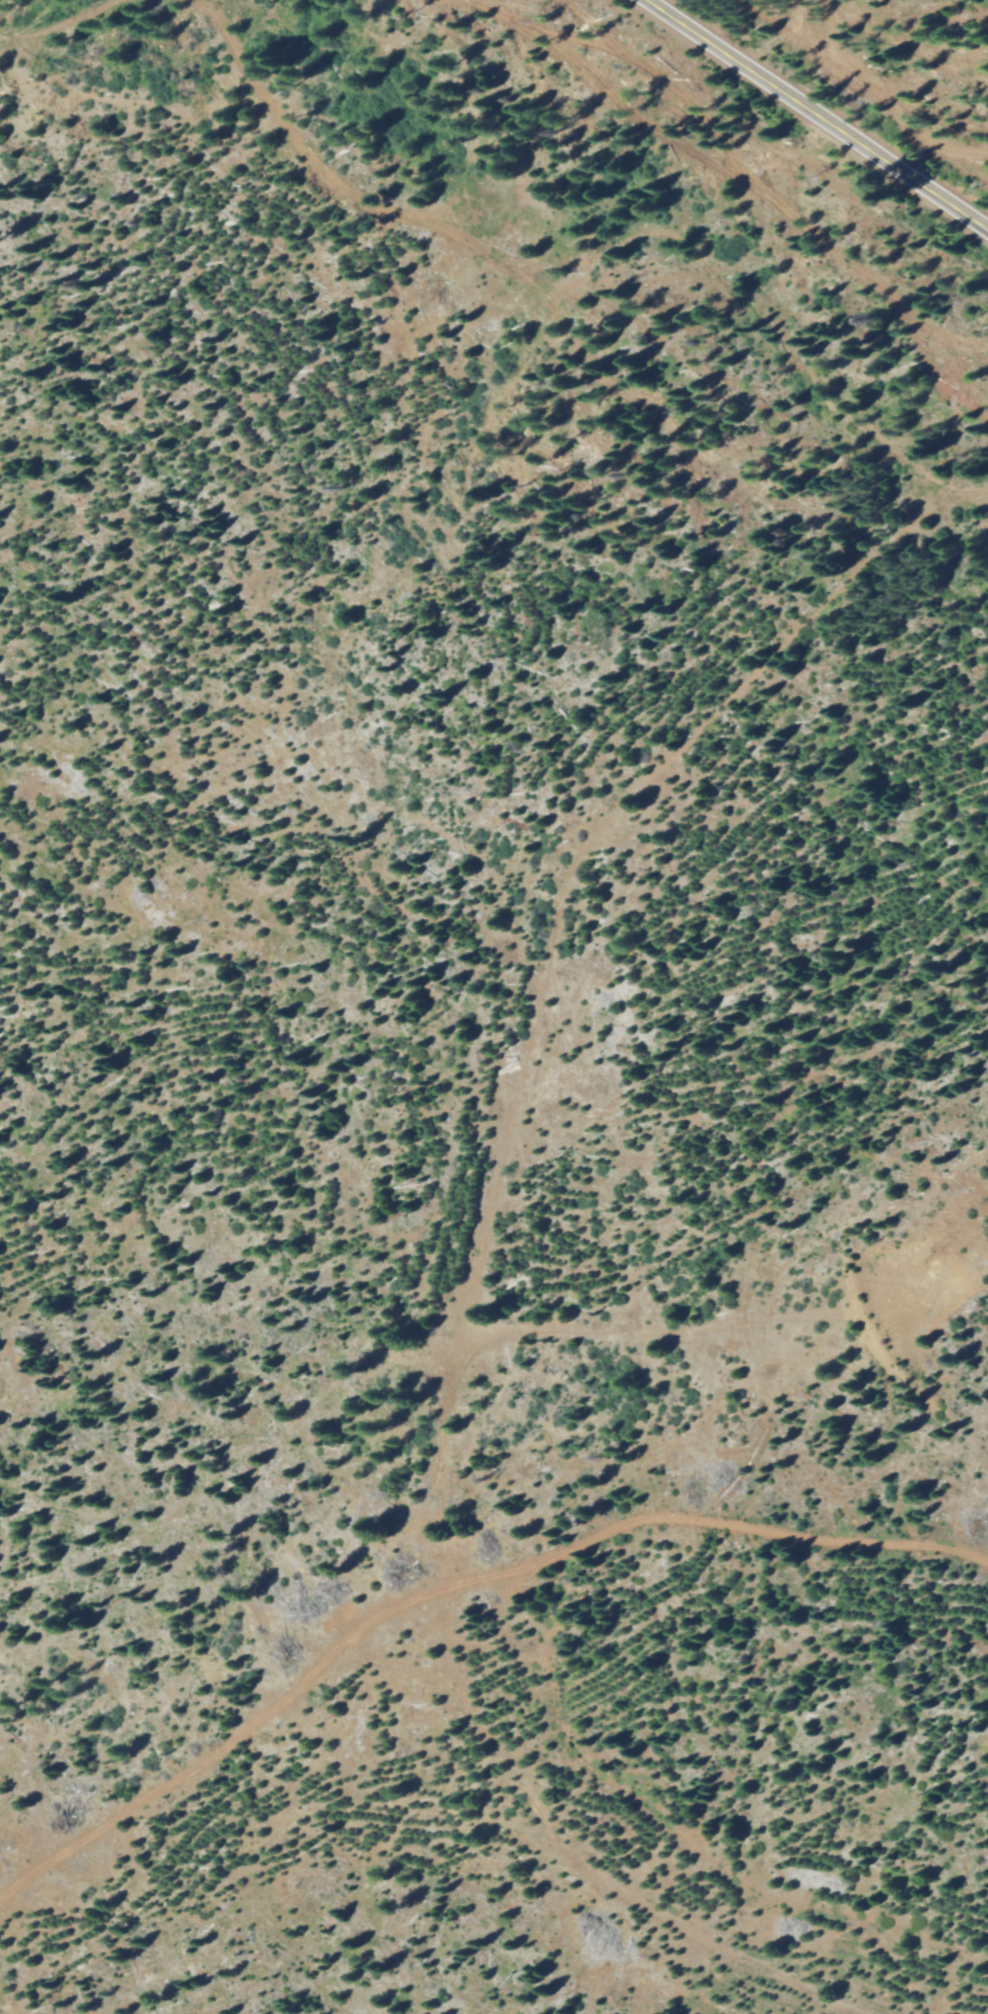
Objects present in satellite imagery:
road: (820, 113)

